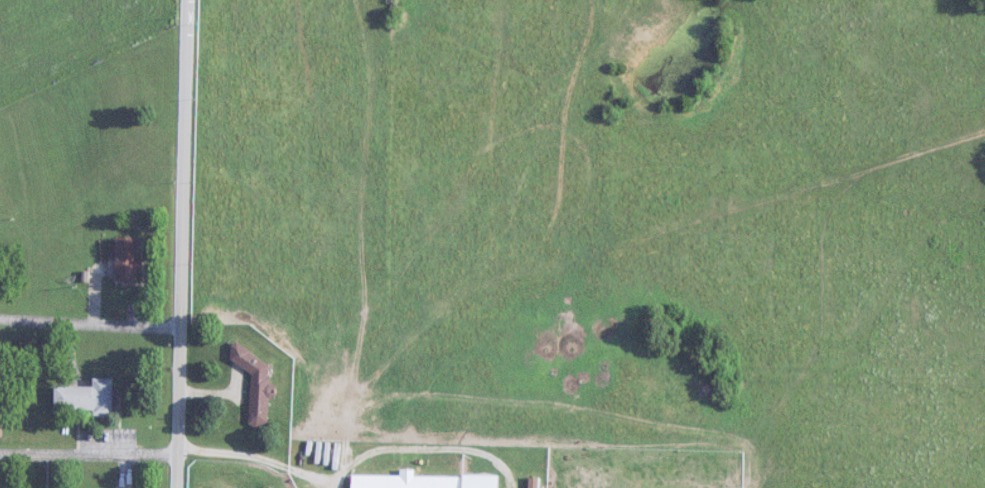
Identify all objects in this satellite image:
road: (185, 243)
building: (127, 259)
road: (91, 322)
building: (257, 385)
building: (86, 398)
road: (90, 451)
road: (352, 463)
building: (406, 481)
building: (533, 483)

